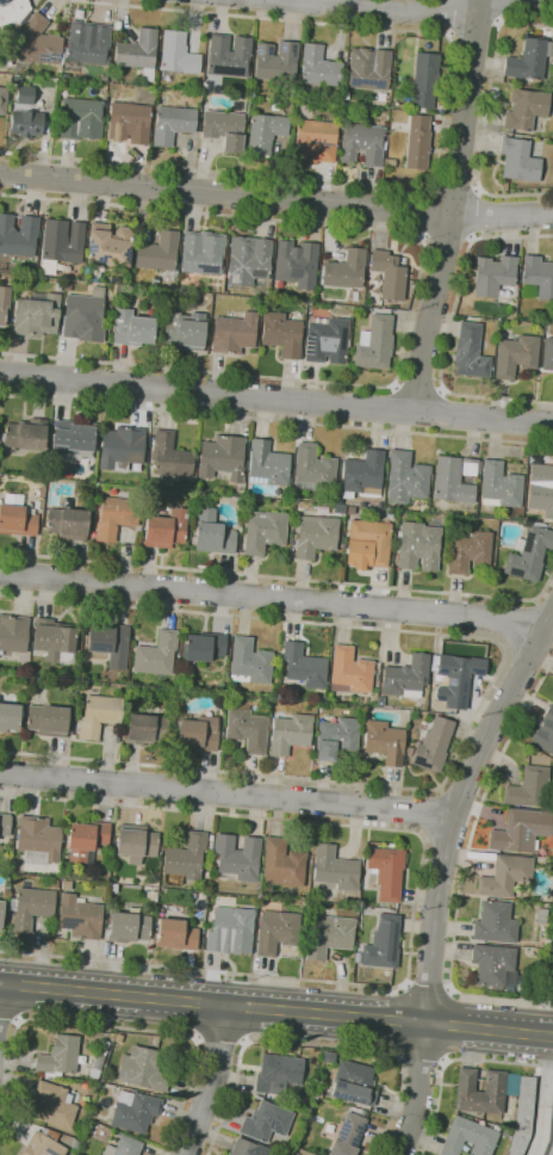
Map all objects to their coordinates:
road: (389, 8)
building: (12, 12)
road: (497, 20)
road: (467, 26)
road: (449, 32)
building: (37, 43)
building: (87, 43)
building: (138, 52)
building: (176, 55)
building: (228, 56)
building: (528, 60)
building: (276, 61)
building: (318, 68)
building: (368, 68)
building: (424, 79)
building: (24, 94)
building: (2, 100)
building: (524, 107)
building: (346, 109)
road: (486, 116)
building: (80, 118)
building: (131, 119)
building: (25, 123)
building: (342, 123)
building: (172, 124)
building: (224, 128)
building: (265, 132)
road: (441, 137)
building: (316, 141)
building: (362, 143)
building: (417, 143)
building: (518, 160)
road: (275, 197)
road: (452, 206)
road: (427, 214)
building: (18, 235)
building: (61, 243)
building: (108, 246)
building: (157, 252)
building: (203, 253)
building: (248, 260)
building: (297, 264)
building: (7, 267)
building: (346, 270)
building: (389, 274)
building: (495, 277)
building: (536, 277)
building: (114, 279)
road: (415, 295)
building: (4, 303)
building: (387, 310)
building: (37, 314)
building: (309, 314)
building: (85, 315)
building: (131, 328)
road: (448, 328)
building: (184, 331)
building: (234, 333)
building: (281, 333)
building: (325, 340)
building: (375, 344)
building: (470, 352)
building: (547, 354)
building: (515, 356)
road: (418, 385)
road: (275, 400)
road: (276, 420)
building: (25, 434)
building: (72, 439)
building: (122, 447)
building: (169, 455)
building: (223, 456)
building: (267, 463)
building: (313, 469)
building: (361, 474)
building: (405, 477)
building: (454, 478)
building: (499, 486)
building: (540, 489)
building: (114, 515)
building: (17, 520)
building: (436, 520)
building: (67, 523)
building: (166, 529)
building: (263, 531)
building: (212, 533)
building: (315, 536)
building: (367, 544)
building: (417, 545)
building: (467, 550)
building: (529, 552)
road: (284, 577)
road: (272, 598)
building: (12, 634)
building: (52, 638)
building: (110, 643)
building: (77, 644)
building: (203, 647)
building: (156, 654)
building: (249, 662)
building: (303, 666)
building: (349, 671)
building: (406, 677)
building: (455, 678)
building: (38, 684)
road: (490, 688)
building: (98, 715)
building: (10, 717)
building: (46, 721)
building: (246, 728)
building: (145, 729)
building: (545, 730)
building: (197, 731)
building: (288, 734)
building: (335, 737)
building: (384, 742)
building: (431, 745)
building: (528, 787)
road: (226, 793)
road: (458, 809)
building: (5, 824)
building: (520, 830)
building: (38, 840)
building: (86, 840)
building: (135, 842)
building: (551, 856)
building: (186, 857)
building: (236, 858)
building: (281, 864)
building: (549, 866)
building: (335, 869)
road: (462, 869)
building: (386, 871)
building: (505, 876)
building: (52, 883)
building: (66, 885)
building: (112, 888)
building: (200, 895)
road: (416, 902)
building: (29, 908)
building: (1, 910)
building: (79, 916)
building: (540, 916)
building: (495, 922)
building: (128, 927)
building: (230, 931)
building: (275, 931)
building: (175, 934)
building: (329, 935)
building: (546, 941)
building: (383, 943)
building: (493, 965)
road: (428, 987)
road: (276, 1009)
road: (108, 1026)
road: (220, 1039)
road: (315, 1048)
building: (58, 1056)
road: (421, 1057)
building: (98, 1060)
road: (451, 1061)
building: (142, 1069)
building: (276, 1073)
road: (207, 1080)
building: (354, 1082)
building: (511, 1083)
road: (417, 1089)
building: (479, 1091)
building: (318, 1093)
road: (545, 1097)
building: (54, 1105)
building: (133, 1111)
building: (552, 1112)
building: (522, 1116)
building: (266, 1122)
building: (327, 1130)
building: (507, 1132)
building: (348, 1135)
building: (468, 1137)
building: (74, 1144)
building: (42, 1145)
building: (123, 1147)
building: (248, 1148)
building: (551, 1149)

